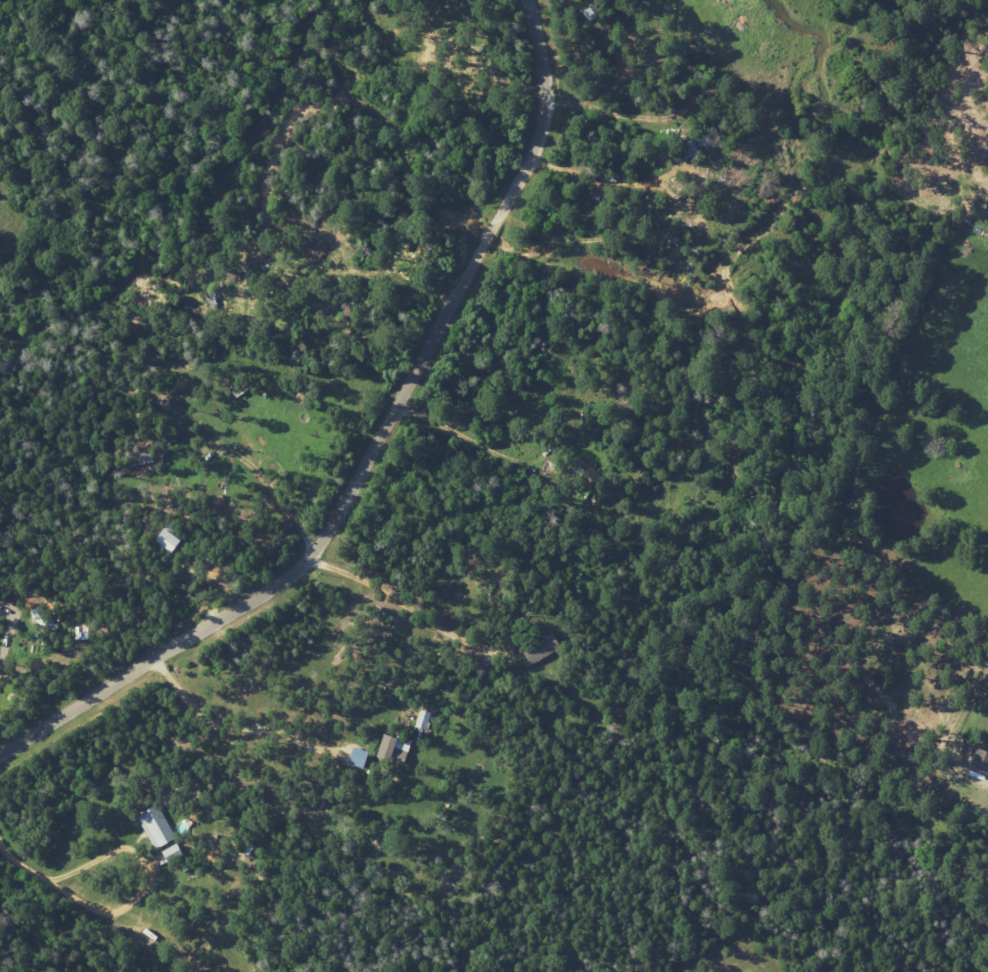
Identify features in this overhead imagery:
road: (375, 449)
building: (173, 542)
road: (404, 607)
building: (43, 620)
building: (542, 648)
building: (426, 720)
road: (247, 731)
building: (390, 747)
building: (359, 757)
building: (979, 760)
building: (157, 827)
building: (176, 853)

